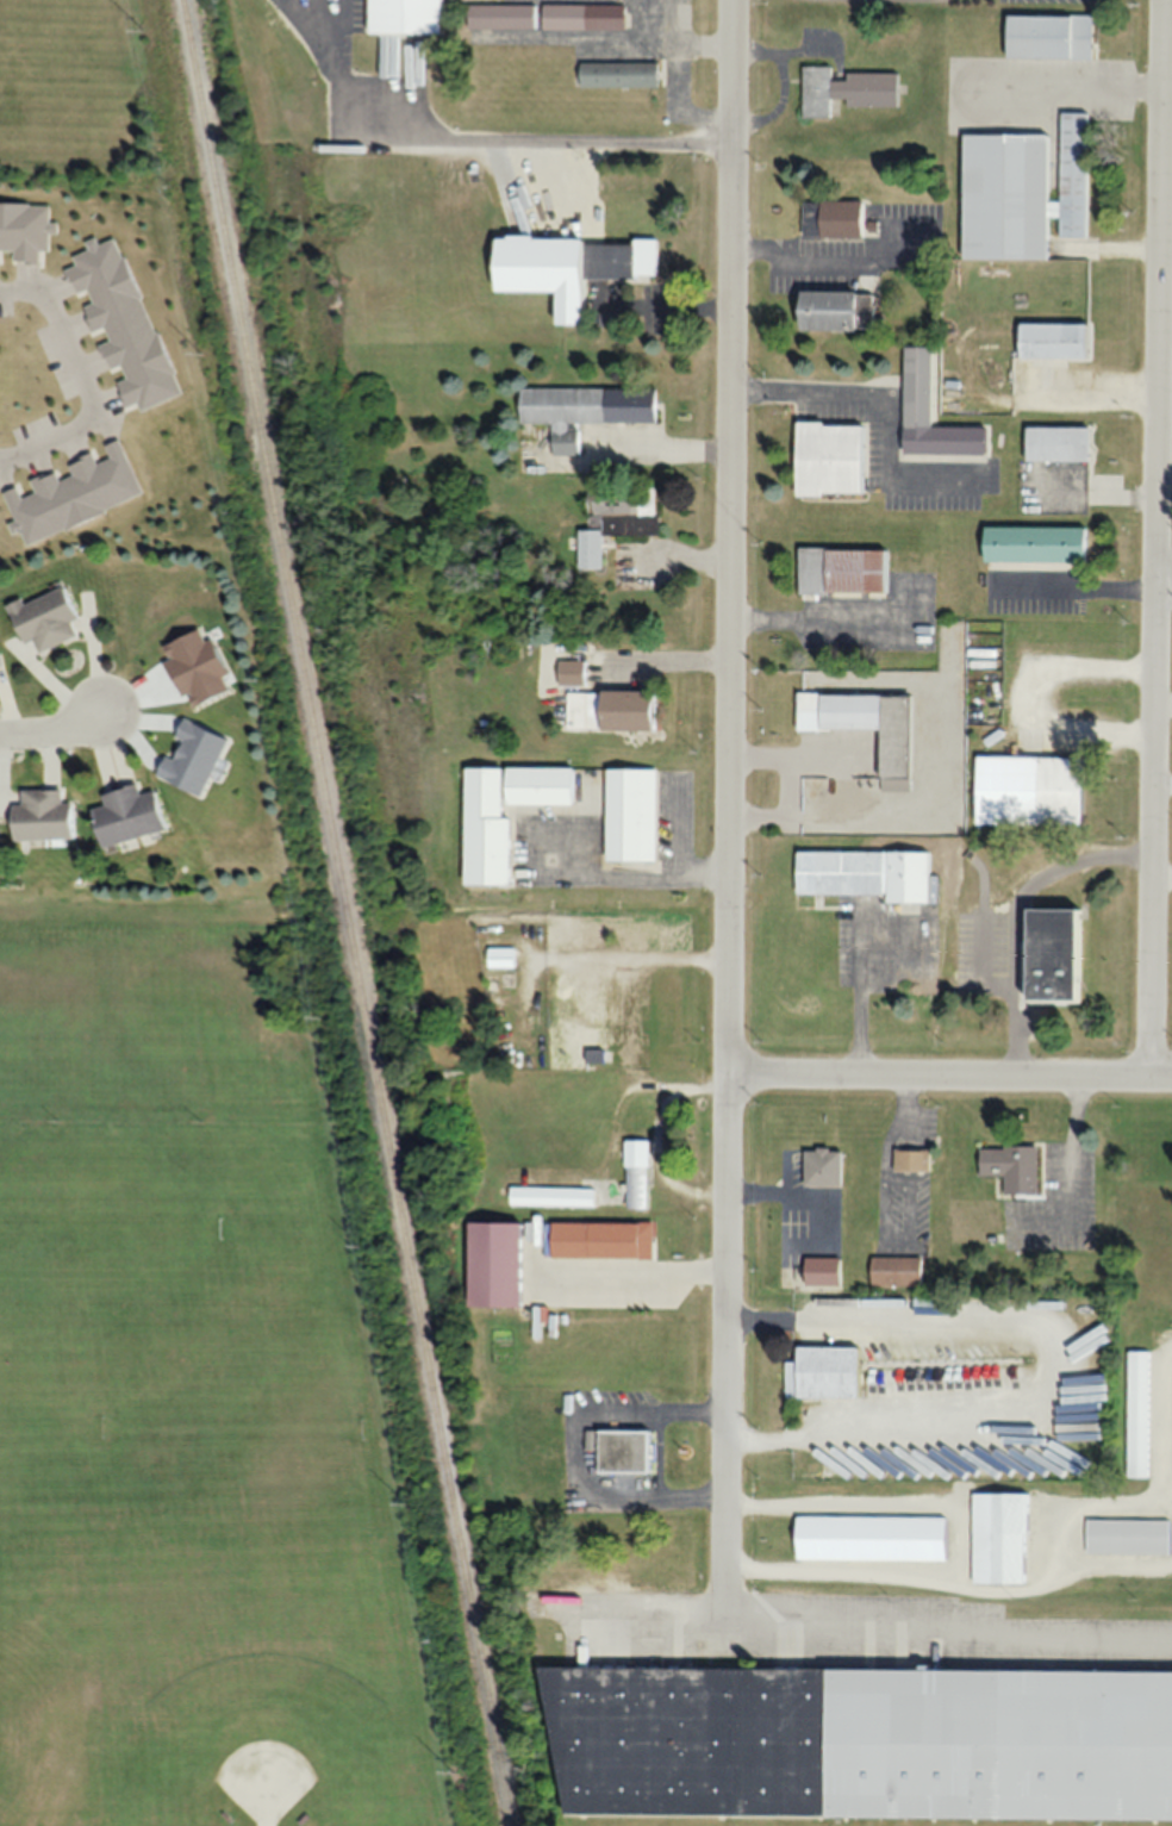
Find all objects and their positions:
building: (500, 14)
building: (582, 15)
building: (1047, 36)
building: (616, 73)
building: (844, 89)
building: (1018, 191)
building: (830, 217)
building: (617, 258)
road: (1157, 287)
building: (834, 309)
building: (1048, 344)
road: (87, 381)
building: (581, 410)
building: (928, 412)
building: (1054, 443)
building: (827, 457)
building: (613, 517)
building: (1031, 543)
building: (840, 569)
road: (1162, 575)
building: (40, 617)
building: (569, 672)
building: (606, 709)
building: (861, 723)
road: (54, 727)
road: (1161, 781)
building: (1025, 790)
road: (725, 811)
building: (124, 814)
building: (628, 814)
building: (38, 815)
road: (1151, 830)
building: (482, 850)
building: (862, 873)
road: (1161, 873)
railway: (344, 912)
building: (1051, 954)
building: (498, 956)
building: (592, 1054)
road: (948, 1083)
building: (909, 1159)
building: (821, 1166)
building: (1009, 1167)
building: (634, 1173)
building: (549, 1195)
park: (111, 1226)
building: (579, 1253)
building: (491, 1263)
building: (892, 1270)
building: (819, 1370)
park: (198, 1389)
building: (1135, 1413)
park: (230, 1426)
building: (619, 1448)
building: (996, 1535)
building: (1124, 1535)
building: (866, 1537)
park: (262, 1730)
building: (859, 1740)

